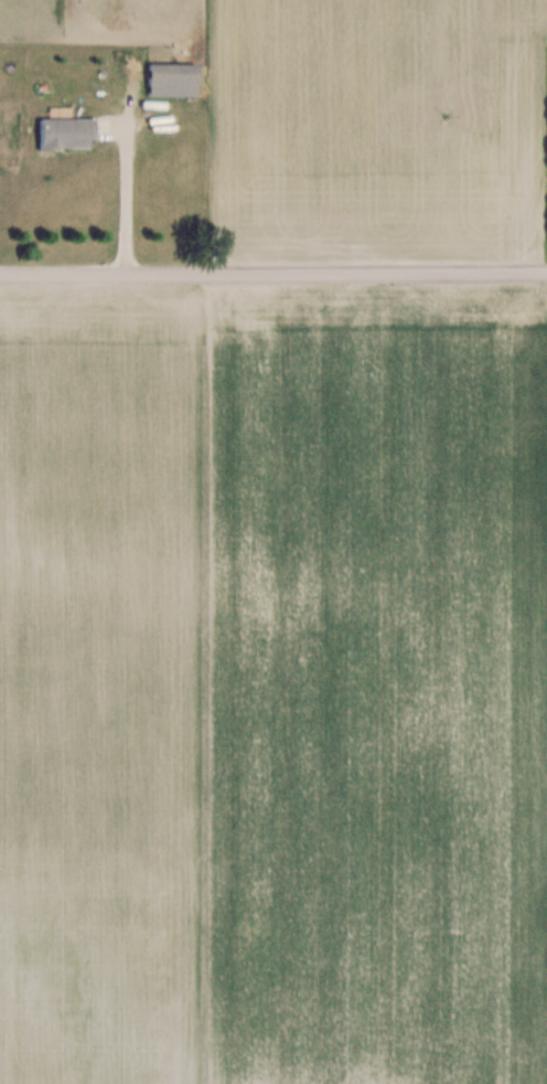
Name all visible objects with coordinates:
building: (174, 79)
building: (68, 132)
road: (124, 195)
road: (272, 280)

